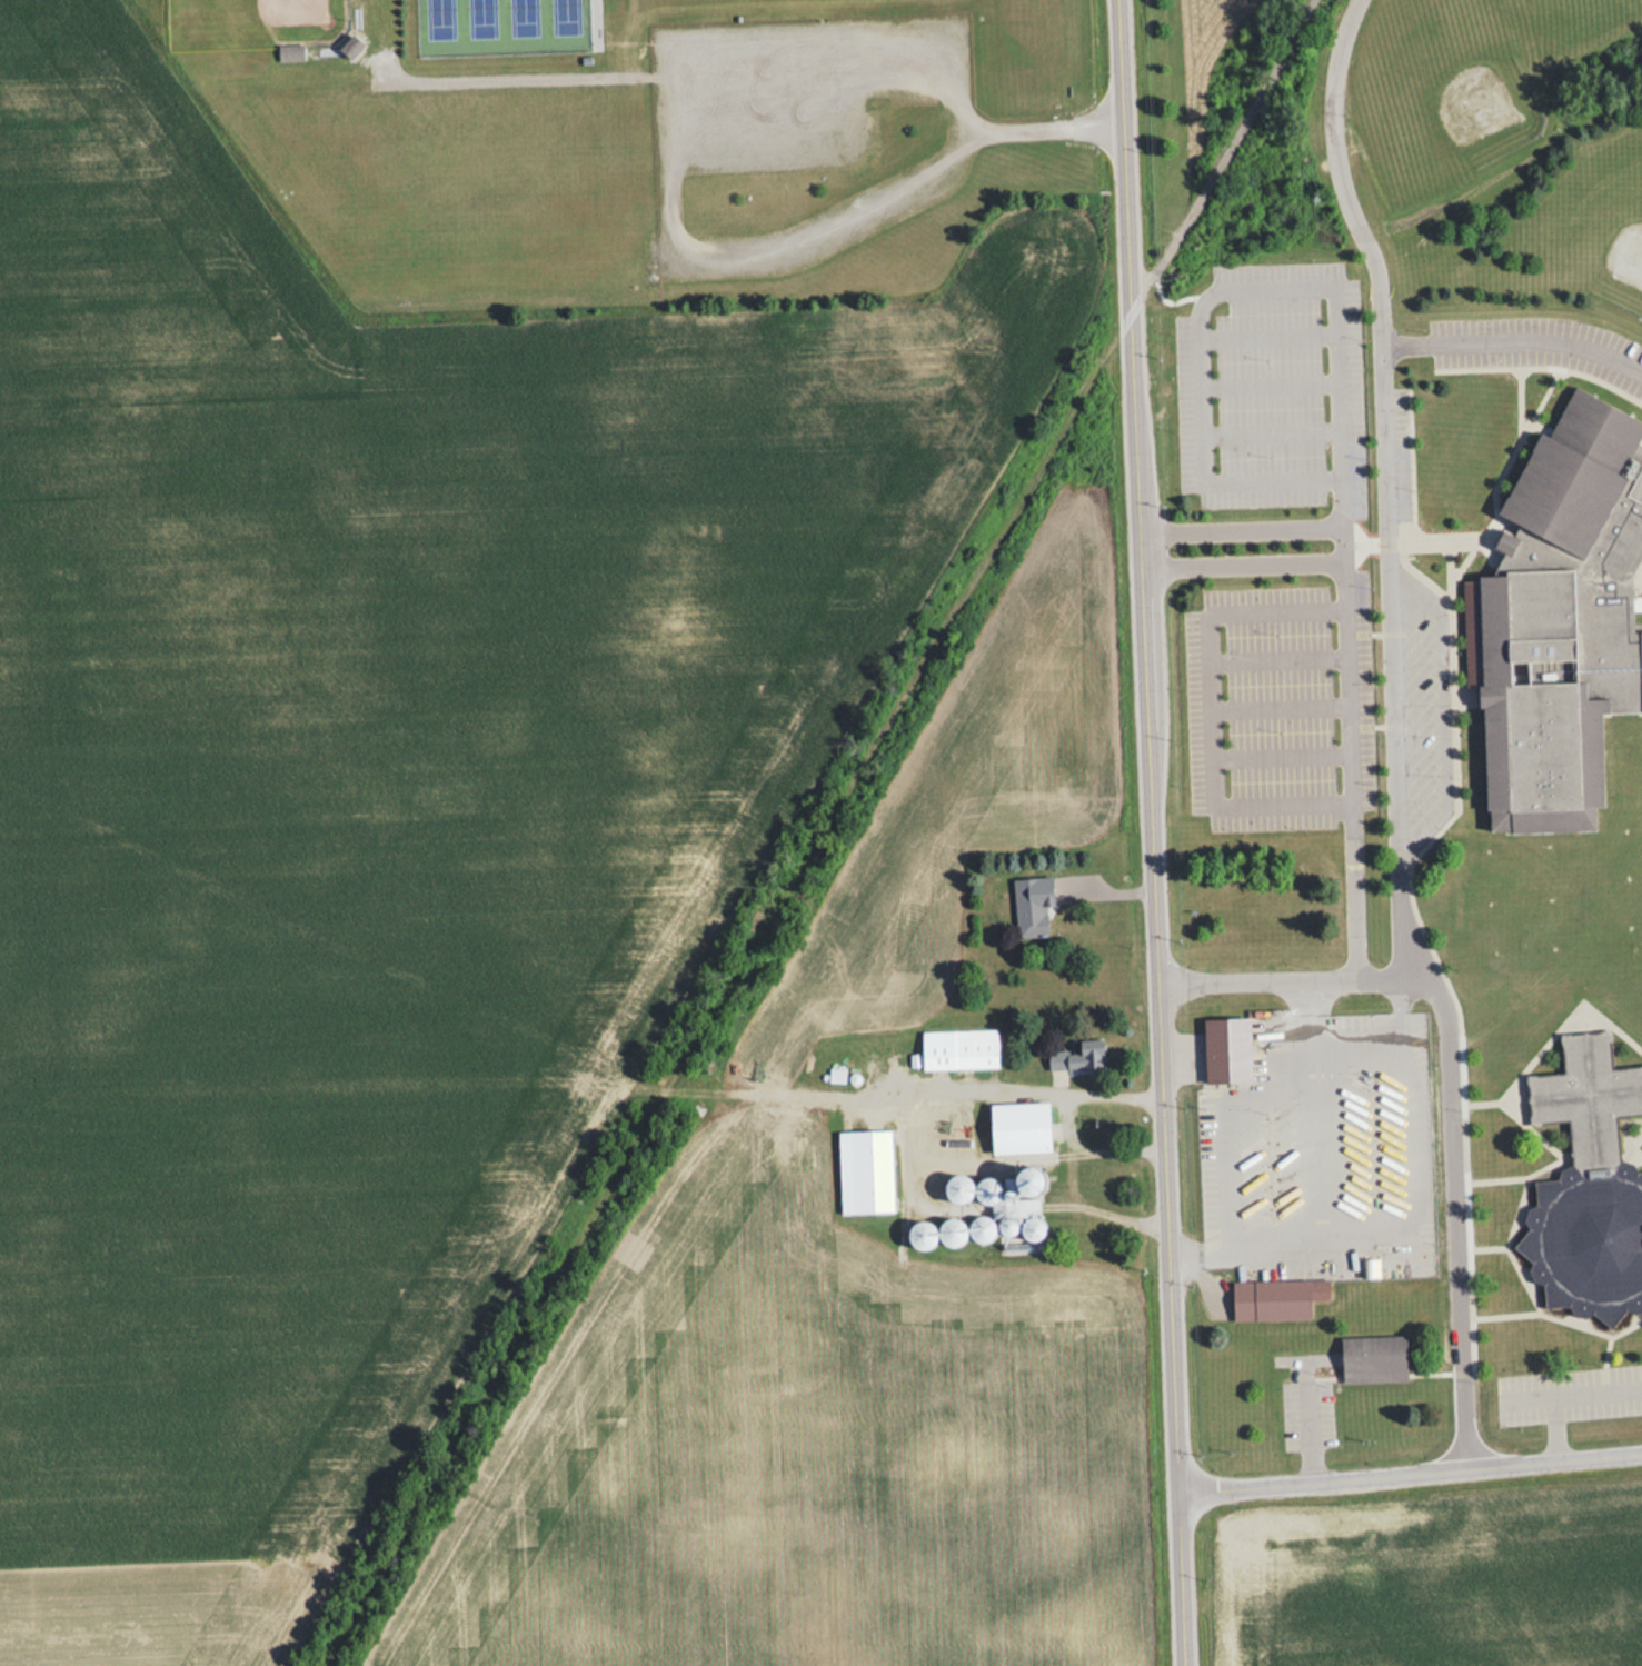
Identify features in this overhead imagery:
park: (255, 18)
park: (505, 24)
building: (349, 48)
building: (288, 52)
road: (1513, 336)
road: (1335, 499)
road: (1336, 538)
building: (1559, 618)
road: (1277, 656)
road: (1214, 706)
road: (1278, 706)
road: (1390, 732)
road: (1280, 752)
road: (1152, 832)
road: (820, 835)
building: (1029, 910)
road: (1386, 969)
road: (1381, 1038)
building: (957, 1048)
building: (1226, 1049)
building: (1076, 1058)
road: (1061, 1116)
road: (1221, 1117)
building: (1018, 1127)
building: (933, 1137)
building: (864, 1171)
building: (1588, 1185)
building: (998, 1205)
building: (981, 1229)
building: (951, 1233)
building: (925, 1236)
building: (1275, 1298)
building: (1372, 1358)
road: (1568, 1396)
road: (1410, 1470)

